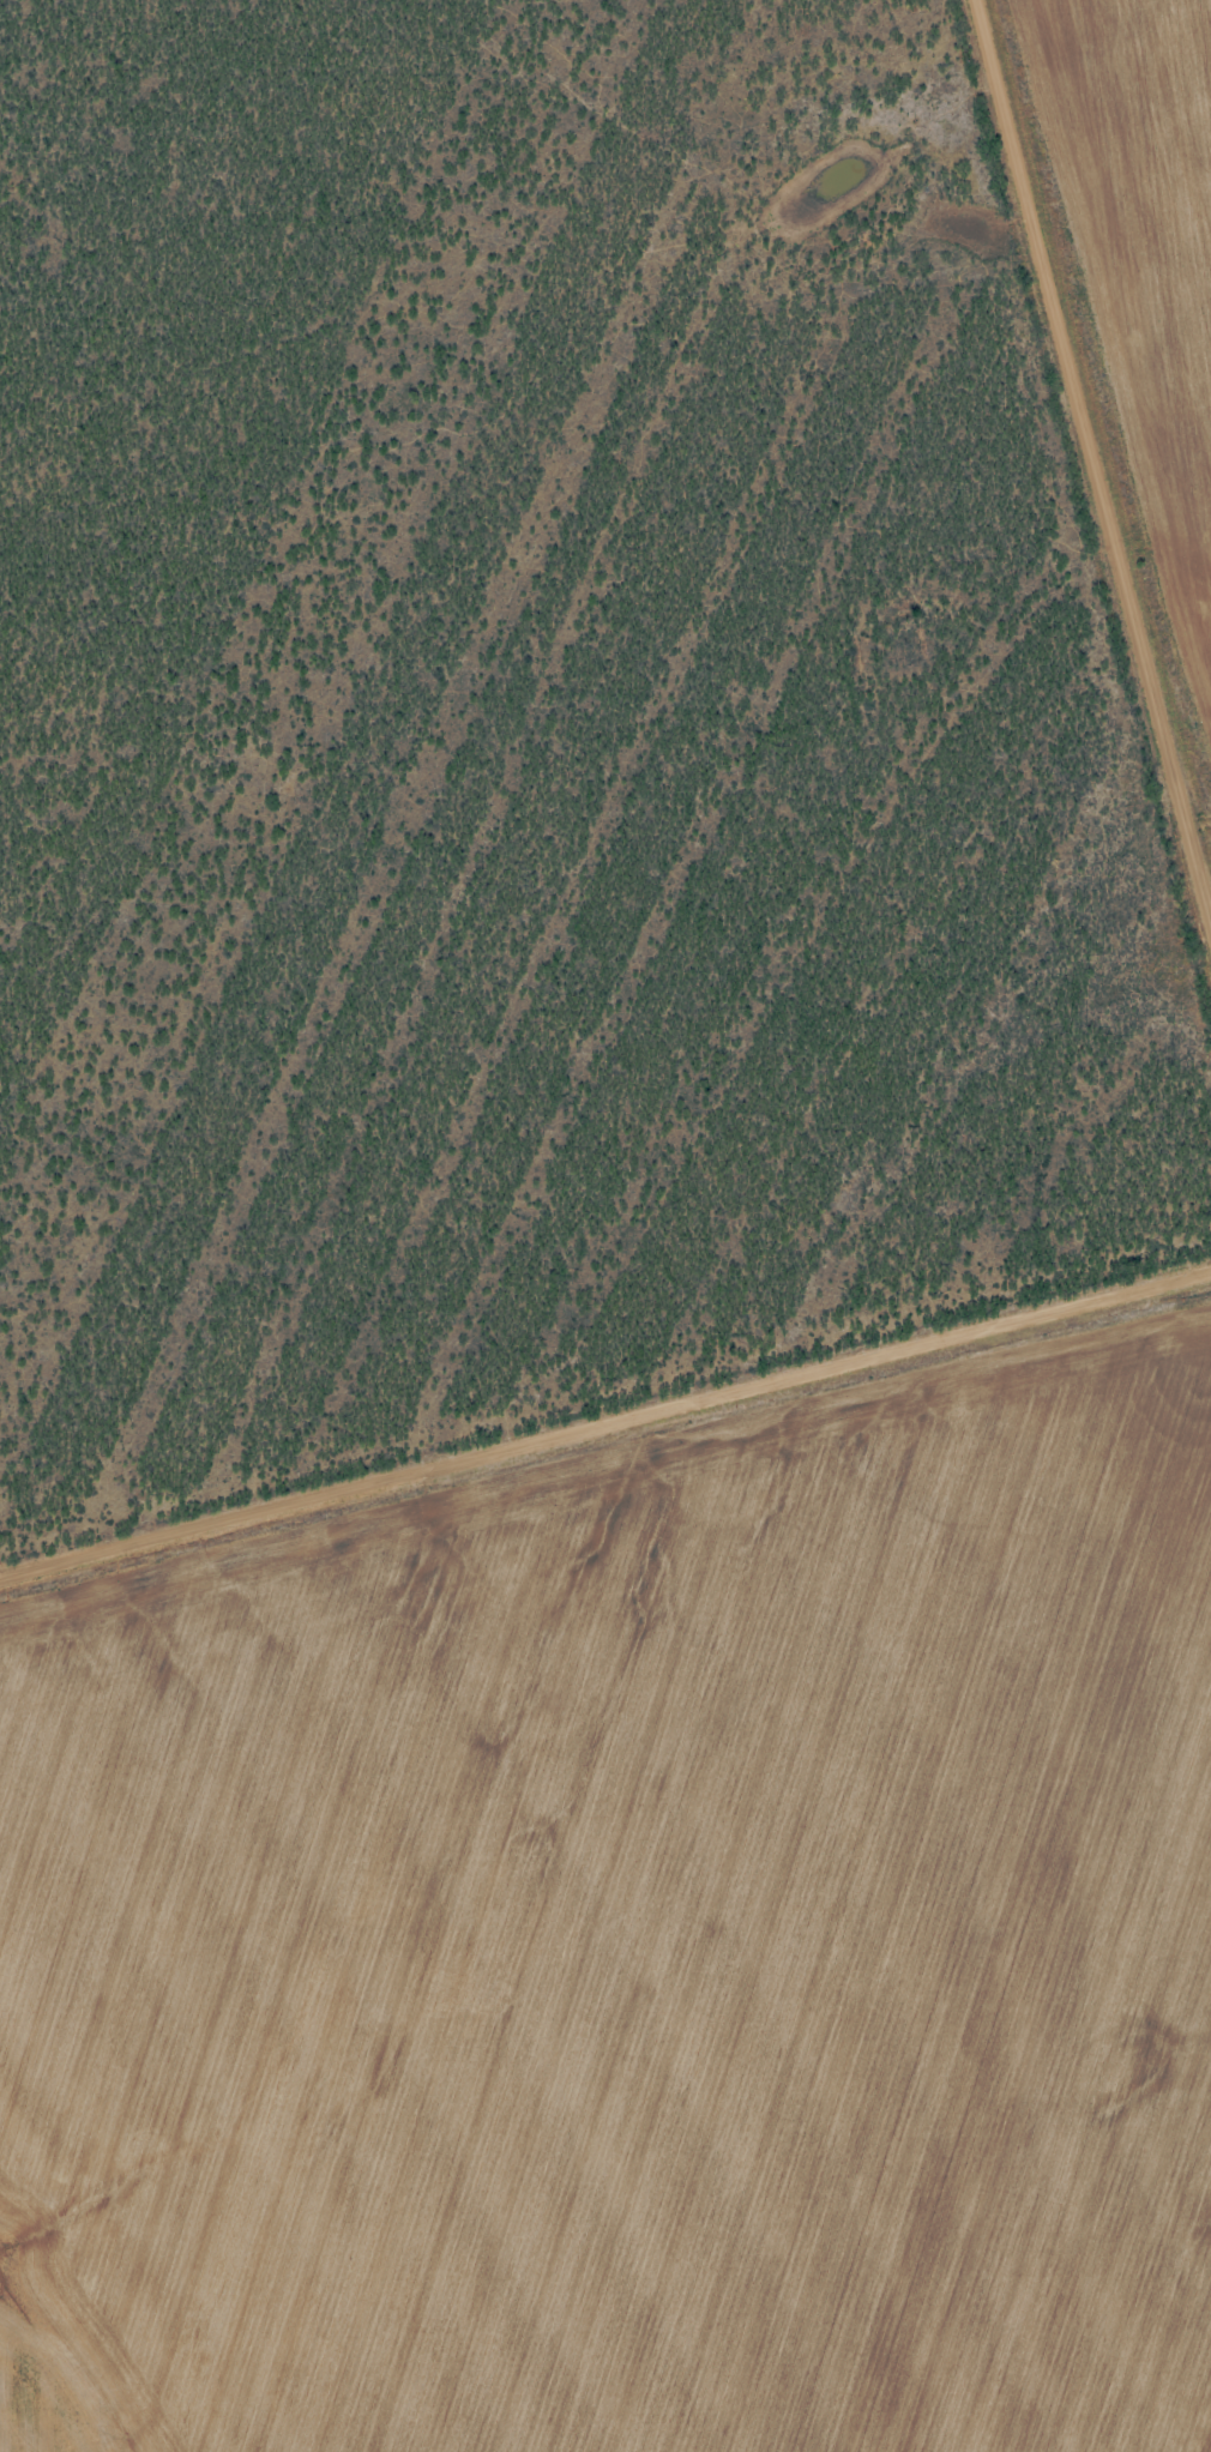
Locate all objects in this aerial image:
road: (1095, 459)
road: (605, 1434)

